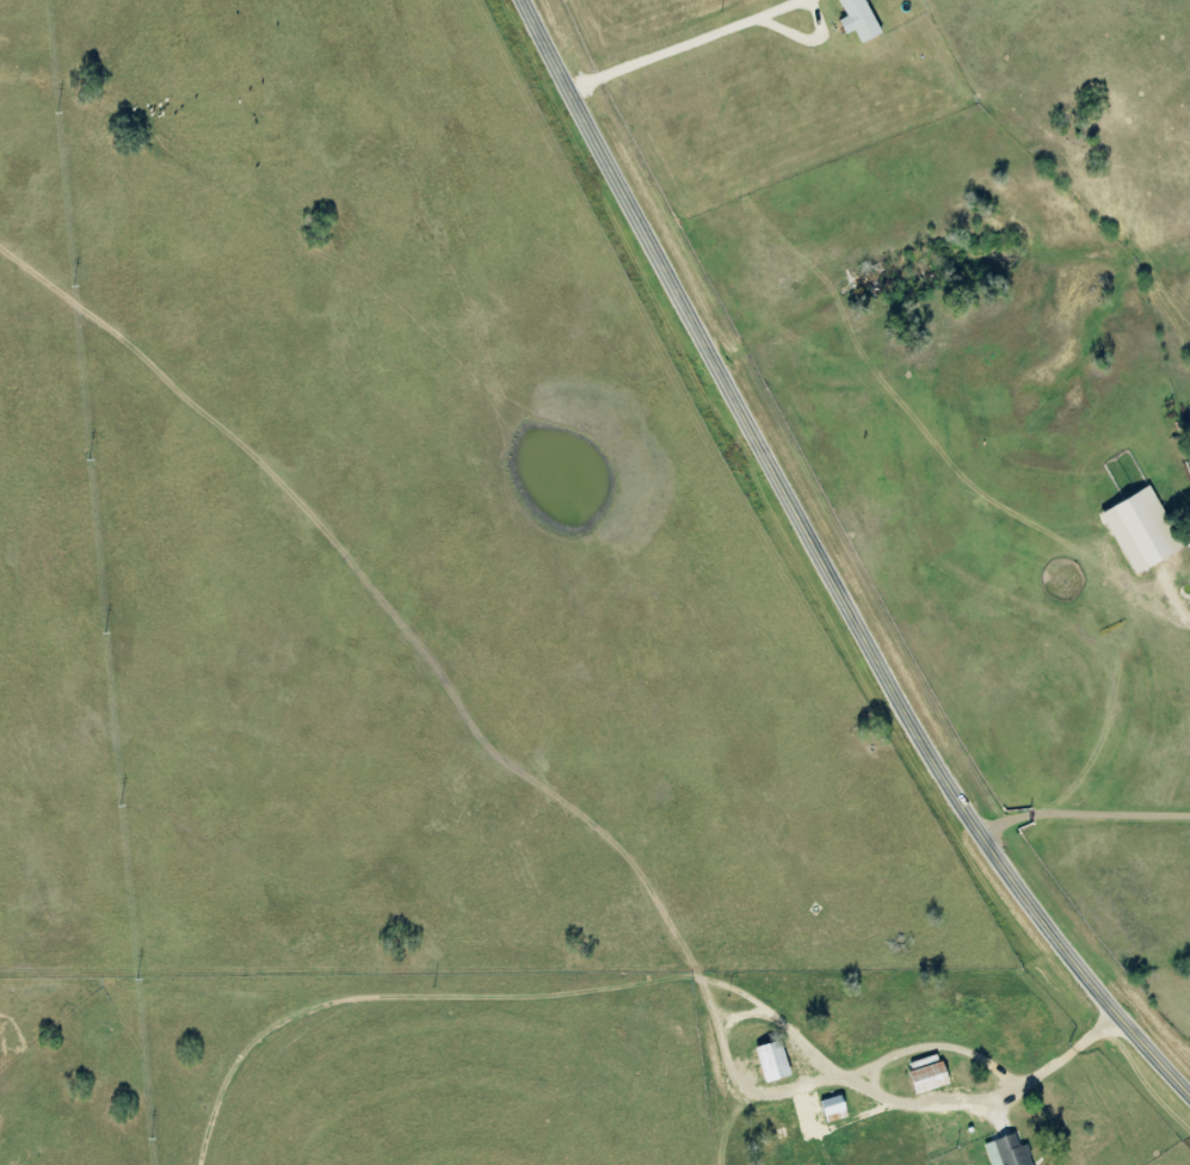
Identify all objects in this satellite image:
building: (859, 19)
building: (1140, 531)
building: (1185, 535)
road: (826, 566)
road: (1099, 873)
building: (771, 1061)
building: (927, 1078)
building: (832, 1109)
building: (1006, 1152)

